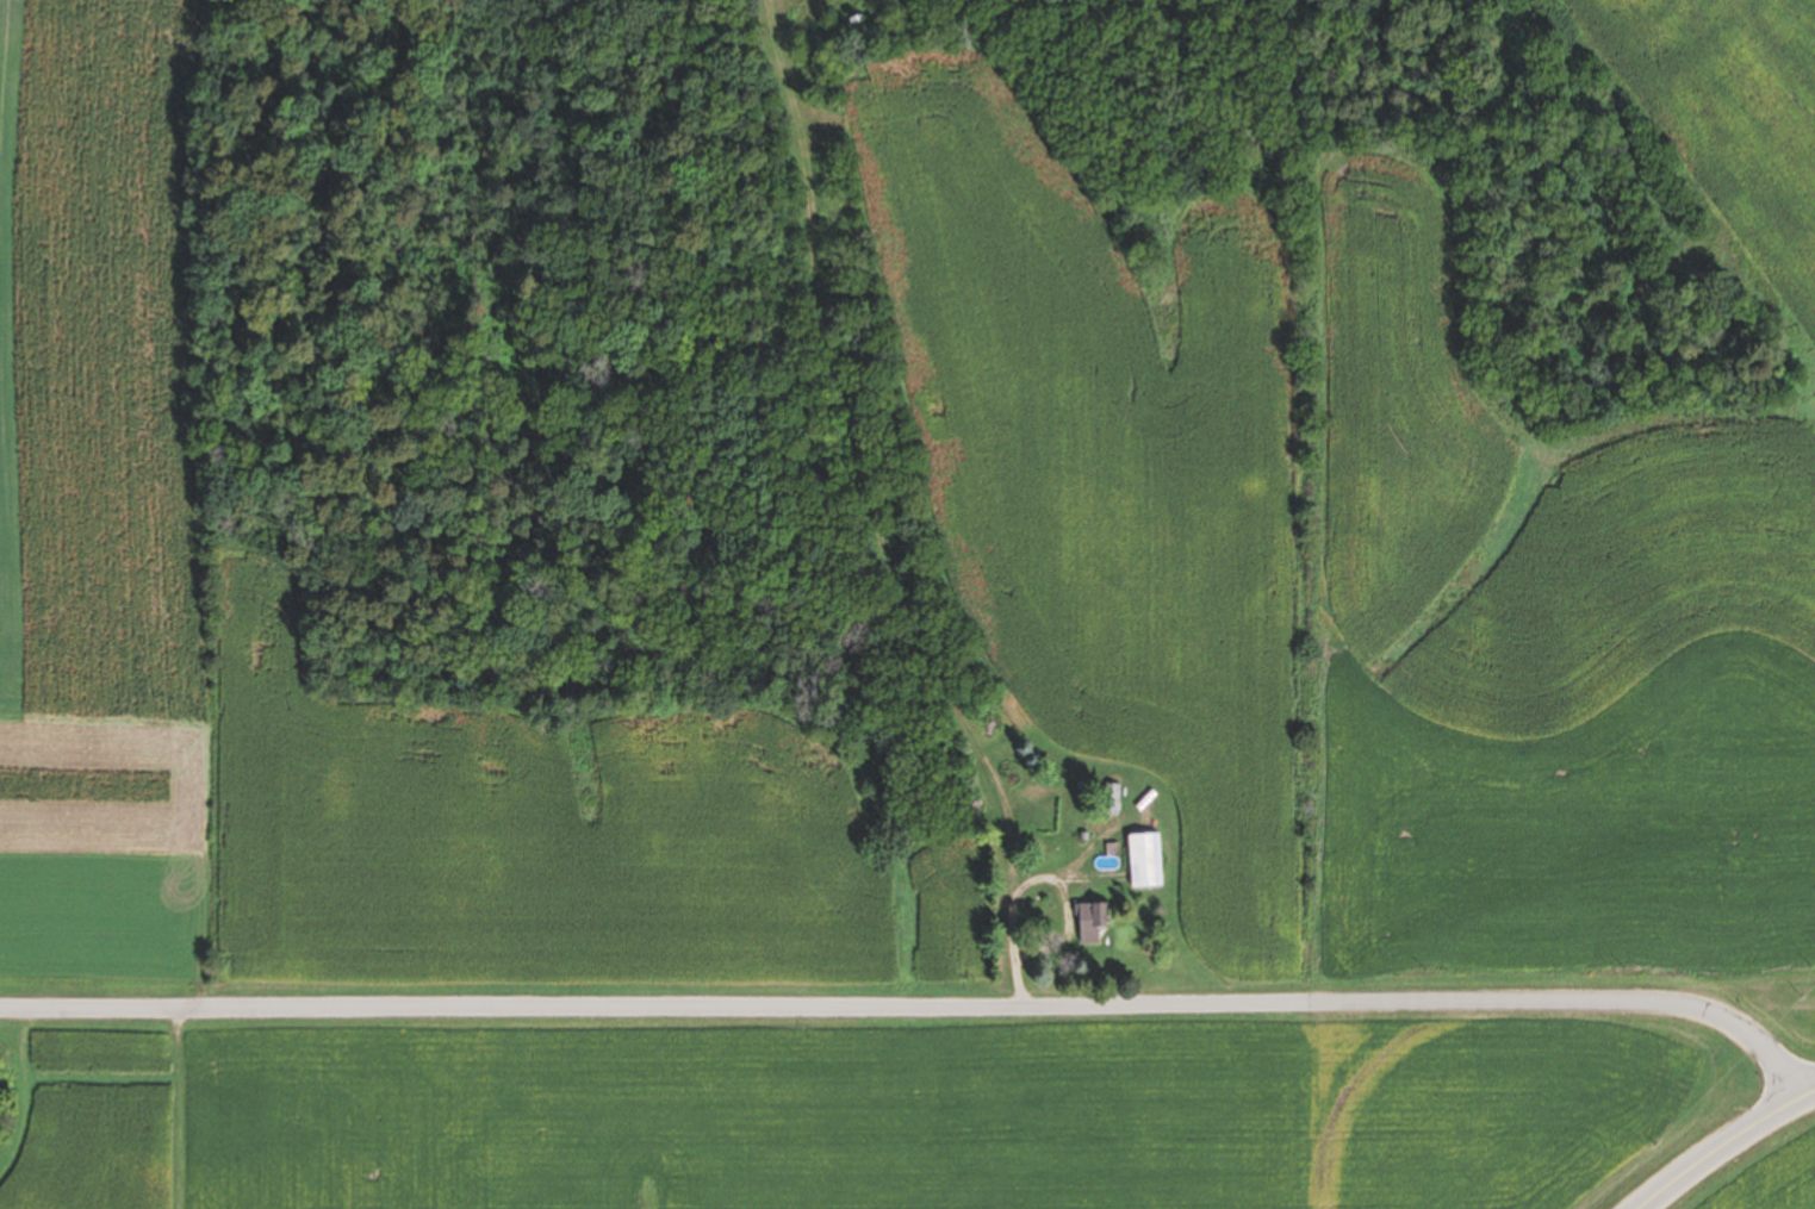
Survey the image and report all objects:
building: (1117, 800)
building: (1146, 861)
building: (1093, 922)
road: (920, 1002)
road: (1726, 1146)

